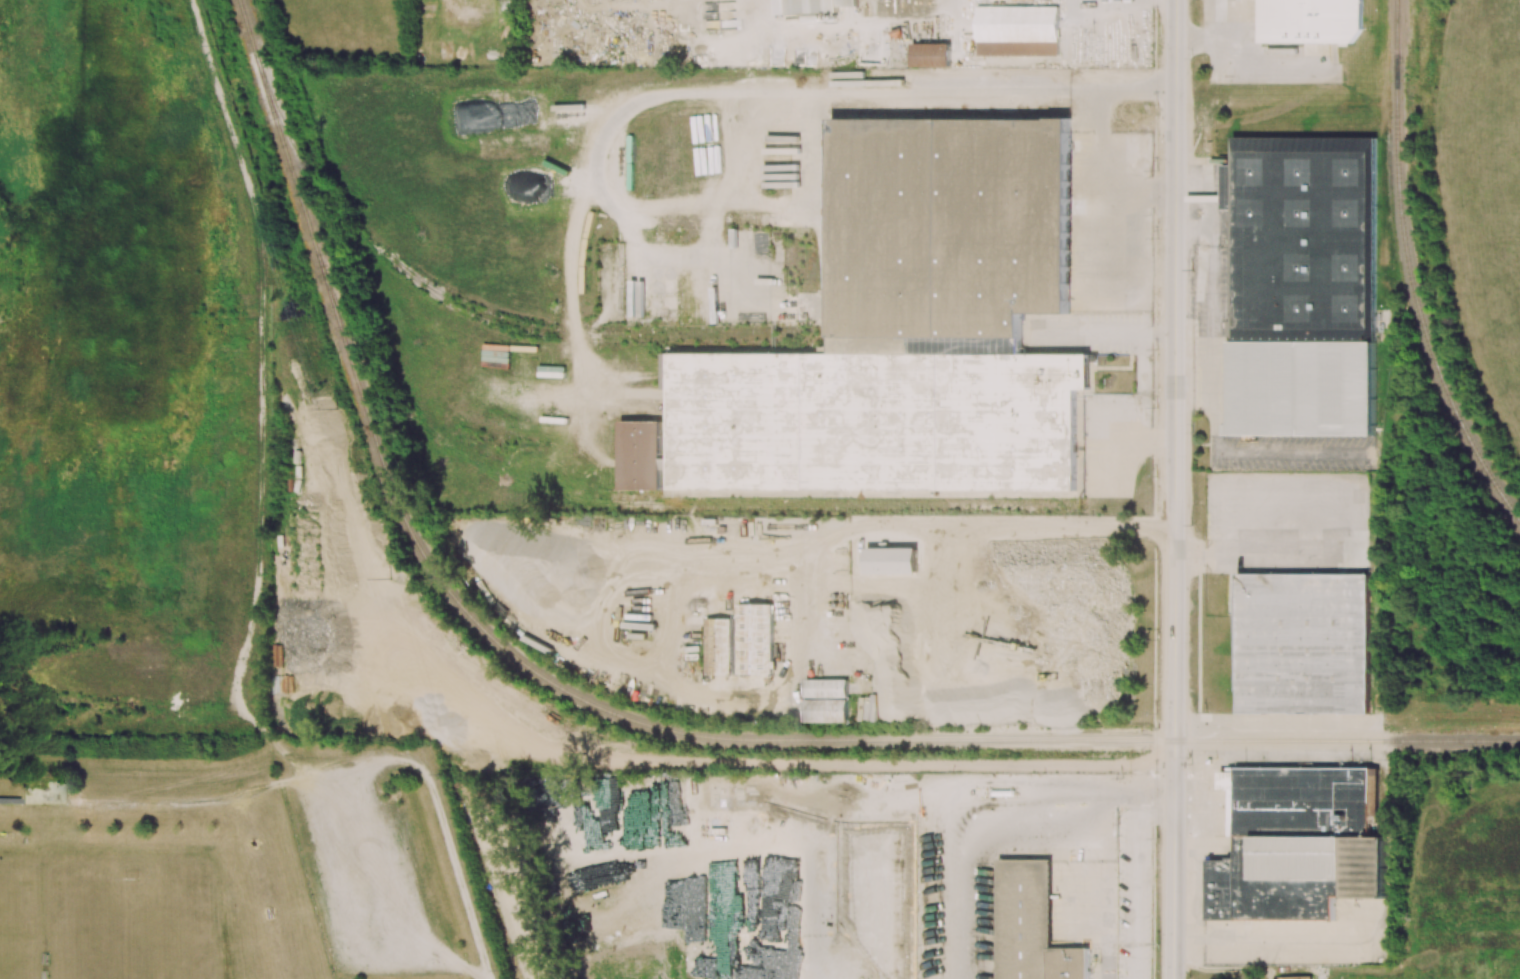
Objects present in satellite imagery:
building: (811, 6)
road: (844, 21)
building: (1310, 21)
building: (1017, 31)
power tower: (226, 43)
building: (930, 55)
road: (1118, 92)
railway: (287, 151)
road: (1101, 164)
road: (1164, 198)
road: (1103, 222)
power tower: (288, 243)
railway: (1410, 273)
railway: (477, 316)
railway: (517, 317)
road: (1164, 330)
building: (902, 331)
road: (1103, 332)
power tower: (337, 408)
road: (1166, 441)
road: (1123, 443)
road: (1178, 489)
railway: (569, 496)
road: (1028, 522)
road: (1274, 549)
road: (1192, 555)
building: (892, 560)
road: (258, 565)
power tower: (389, 579)
building: (741, 642)
building: (1302, 643)
road: (136, 675)
building: (826, 700)
railway: (805, 740)
power tower: (450, 776)
road: (1148, 786)
road: (198, 801)
road: (837, 802)
building: (1297, 843)
parking lot: (363, 879)
road: (1134, 882)
road: (373, 903)
building: (1031, 926)
park: (134, 927)
park: (11, 929)
power tower: (512, 969)
building: (1295, 977)

